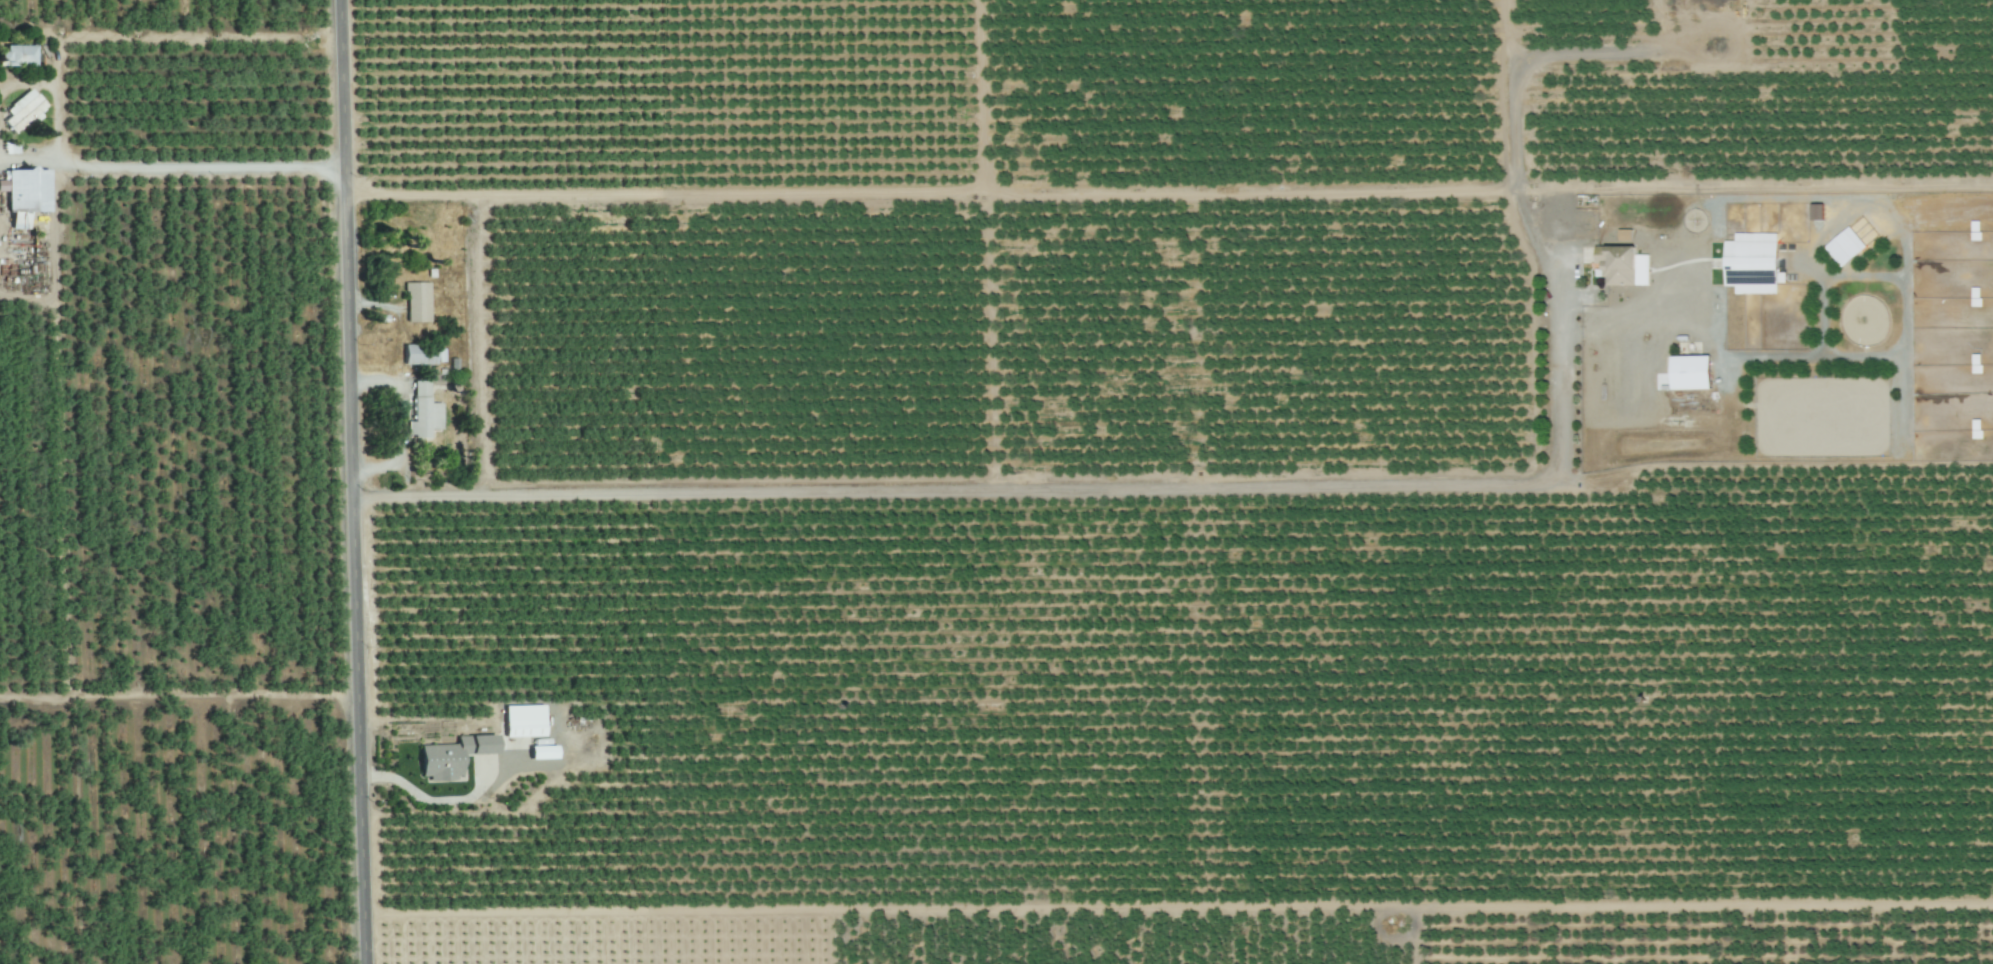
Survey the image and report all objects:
building: (15, 58)
building: (20, 114)
road: (211, 167)
building: (24, 193)
building: (1750, 266)
building: (1615, 268)
building: (1974, 300)
building: (415, 305)
building: (416, 357)
building: (1688, 376)
building: (421, 414)
road: (359, 482)
road: (1074, 490)
building: (520, 723)
building: (447, 760)
road: (431, 803)

